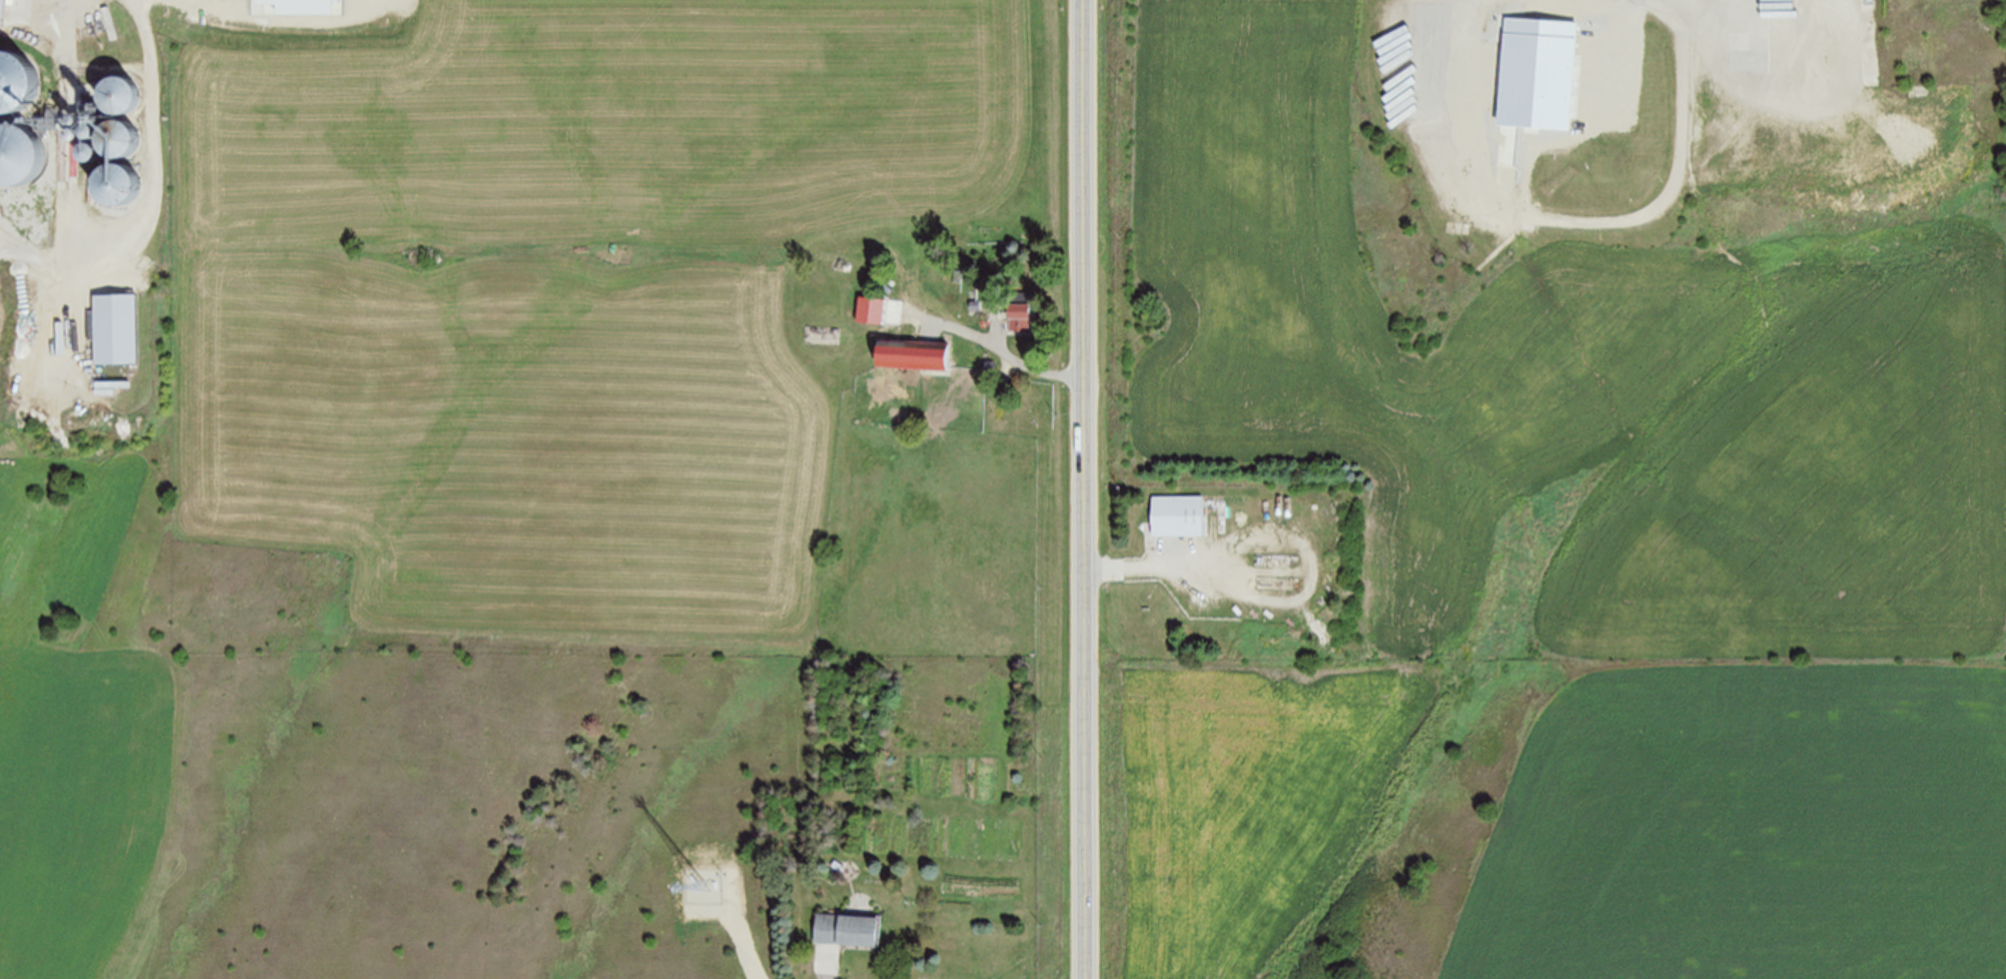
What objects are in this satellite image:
building: (0, 8)
building: (1537, 74)
building: (12, 84)
building: (111, 96)
building: (13, 156)
road: (64, 162)
building: (105, 162)
road: (151, 185)
road: (1568, 214)
building: (1020, 311)
building: (115, 330)
road: (992, 349)
building: (912, 354)
road: (1085, 489)
building: (1178, 516)
road: (1163, 568)
building: (844, 928)
road: (829, 966)

